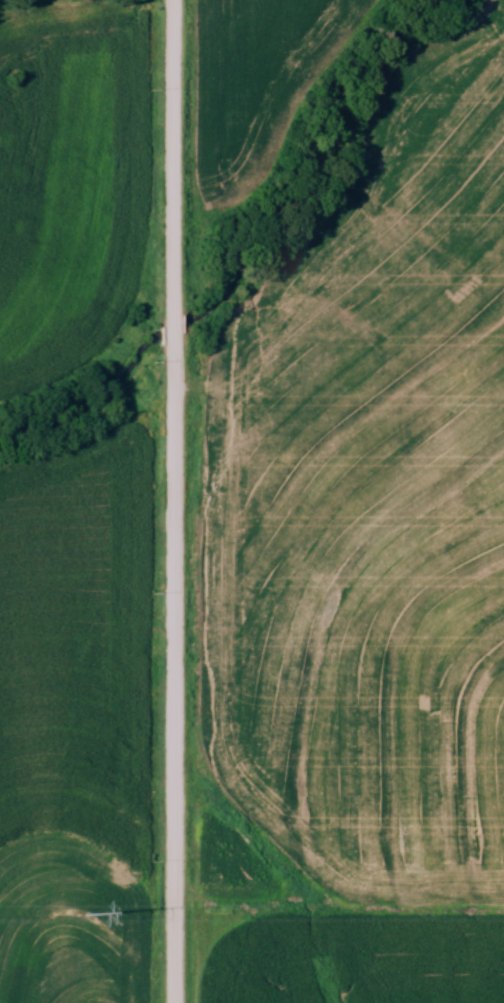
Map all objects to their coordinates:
road: (175, 501)
power tower: (84, 915)

